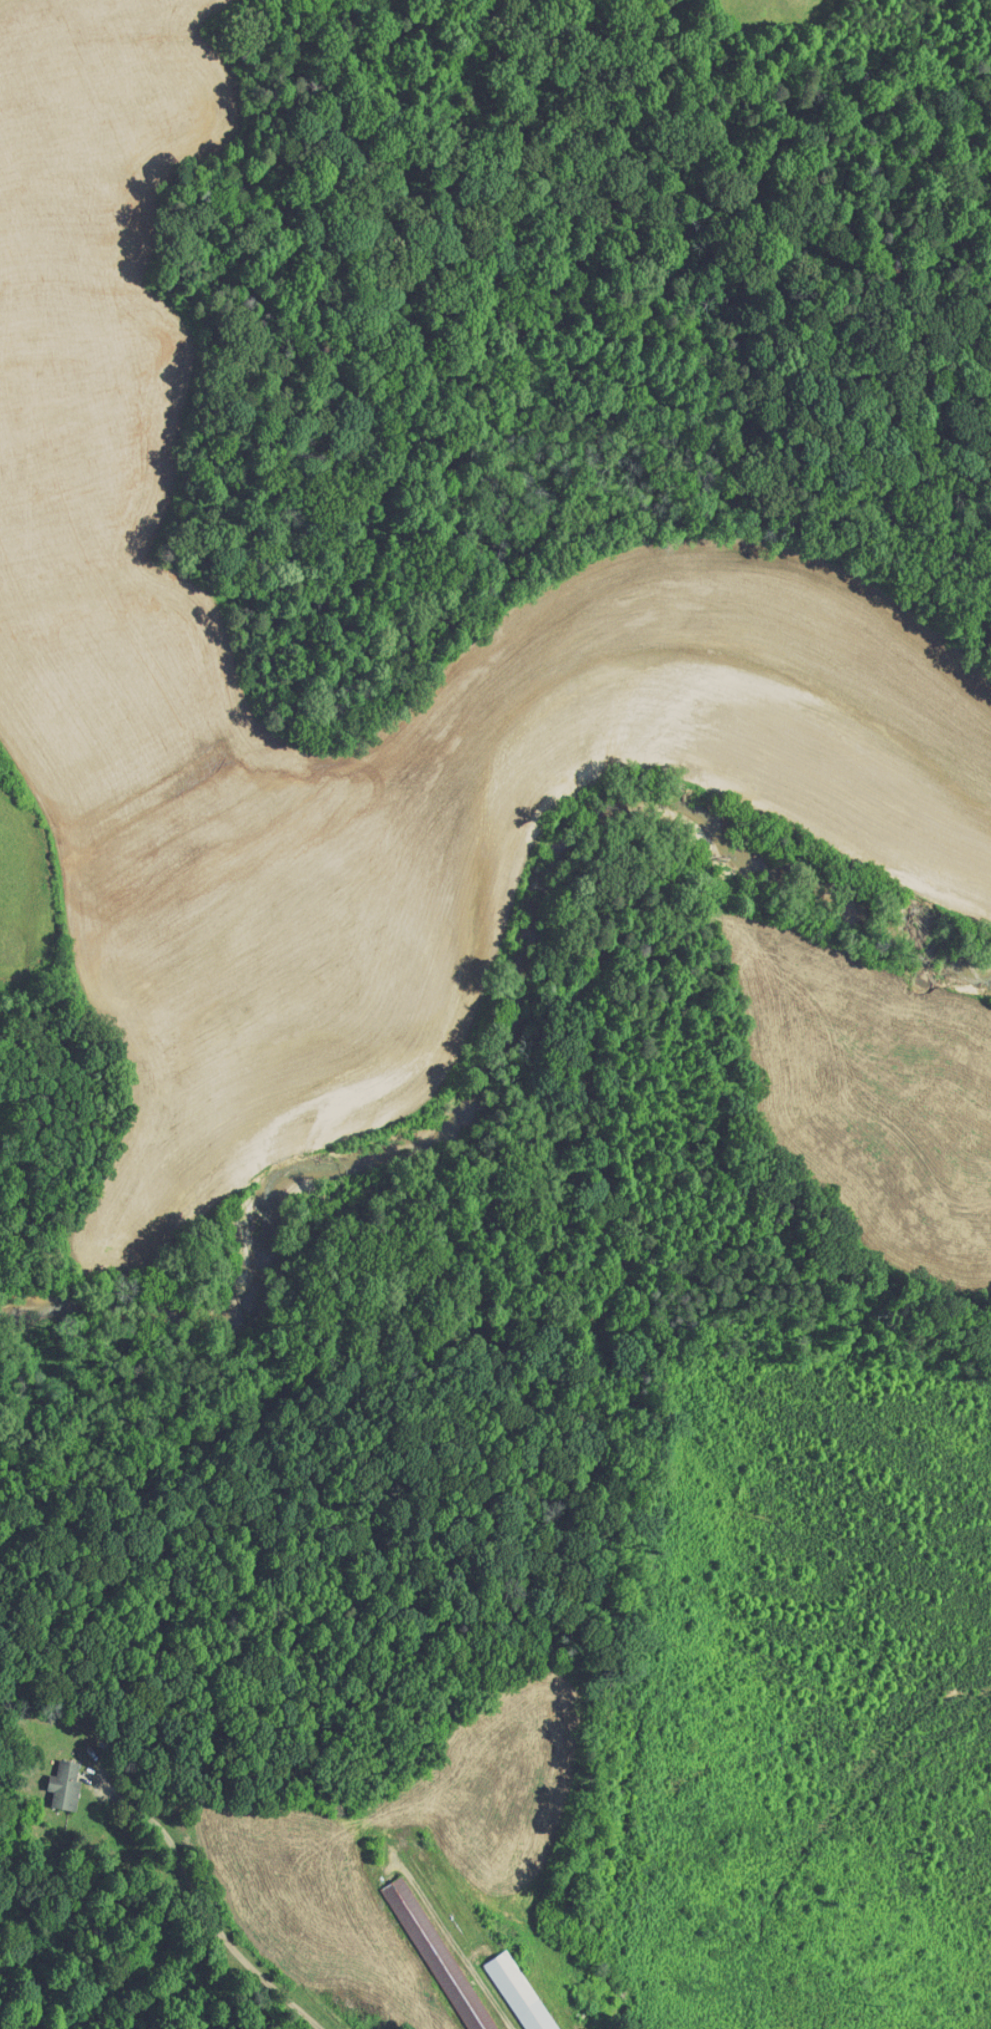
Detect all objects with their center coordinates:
building: (64, 1784)
road: (207, 1909)
building: (437, 1952)
building: (520, 1991)

